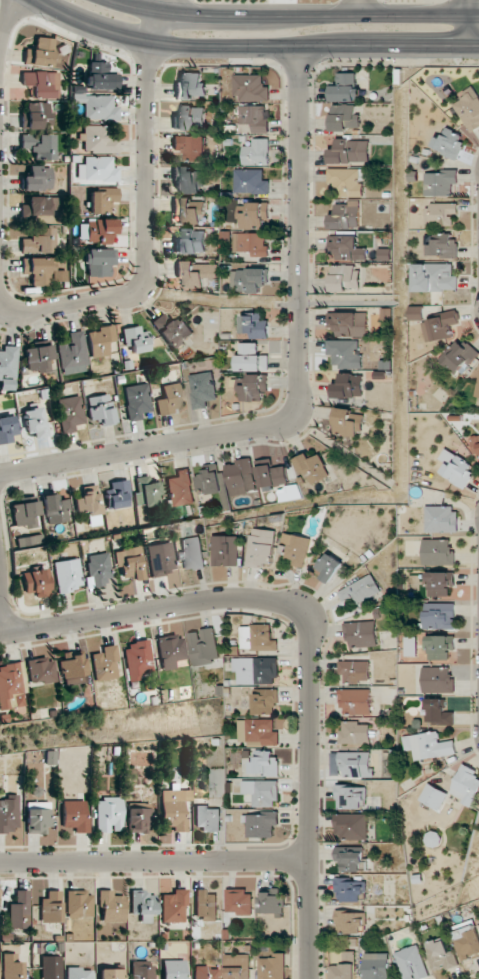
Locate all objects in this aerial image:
road: (359, 7)
road: (295, 15)
road: (8, 20)
road: (471, 23)
road: (251, 47)
building: (39, 52)
building: (99, 77)
building: (41, 83)
building: (190, 86)
building: (251, 88)
building: (345, 88)
building: (96, 107)
building: (469, 108)
building: (36, 115)
building: (189, 118)
building: (254, 118)
building: (344, 118)
building: (449, 142)
building: (38, 145)
building: (190, 146)
building: (350, 151)
building: (256, 152)
building: (96, 169)
building: (37, 179)
building: (187, 179)
building: (250, 181)
building: (348, 181)
building: (441, 182)
building: (100, 199)
building: (39, 206)
building: (189, 210)
building: (441, 213)
building: (253, 215)
building: (346, 215)
road: (145, 217)
building: (97, 230)
building: (38, 242)
building: (190, 242)
building: (251, 243)
building: (442, 245)
building: (349, 248)
building: (98, 261)
building: (37, 270)
building: (194, 274)
building: (435, 277)
building: (344, 278)
building: (417, 313)
building: (348, 323)
building: (255, 326)
building: (440, 326)
building: (171, 330)
building: (135, 339)
building: (100, 340)
building: (345, 353)
building: (73, 354)
building: (458, 356)
building: (38, 358)
building: (252, 358)
building: (8, 367)
road: (299, 382)
building: (349, 386)
building: (478, 386)
building: (254, 387)
building: (202, 389)
building: (169, 399)
building: (136, 401)
building: (100, 409)
building: (69, 413)
building: (346, 422)
building: (34, 423)
building: (7, 430)
building: (475, 444)
building: (456, 467)
building: (313, 468)
building: (272, 476)
building: (241, 477)
building: (213, 484)
building: (180, 488)
building: (146, 490)
building: (287, 493)
building: (117, 494)
building: (87, 503)
building: (55, 509)
building: (25, 514)
building: (441, 519)
building: (28, 540)
building: (261, 547)
building: (225, 550)
building: (295, 551)
building: (438, 551)
building: (192, 553)
building: (159, 558)
building: (128, 563)
building: (97, 567)
building: (330, 567)
building: (65, 575)
building: (34, 582)
building: (440, 583)
building: (360, 589)
building: (439, 615)
road: (1, 620)
building: (361, 633)
building: (259, 638)
road: (309, 640)
building: (411, 646)
building: (204, 647)
building: (440, 647)
building: (170, 650)
building: (136, 660)
building: (104, 664)
building: (72, 668)
building: (41, 670)
building: (257, 670)
building: (355, 670)
building: (438, 679)
building: (10, 686)
building: (266, 701)
building: (356, 701)
building: (438, 712)
building: (257, 731)
building: (354, 733)
building: (428, 745)
building: (48, 757)
building: (466, 785)
building: (262, 792)
building: (434, 796)
building: (351, 797)
building: (173, 809)
building: (8, 814)
building: (108, 814)
building: (74, 816)
building: (37, 817)
building: (207, 818)
building: (137, 819)
building: (262, 824)
building: (352, 826)
building: (351, 858)
road: (153, 861)
building: (350, 889)
building: (239, 901)
building: (272, 901)
building: (78, 904)
building: (141, 905)
building: (50, 906)
building: (173, 906)
building: (206, 906)
building: (110, 907)
building: (19, 910)
building: (350, 922)
building: (469, 942)
building: (442, 955)
building: (413, 963)
building: (344, 965)
building: (376, 965)
building: (11, 966)
building: (237, 966)
building: (50, 967)
building: (272, 967)
building: (173, 969)
building: (141, 970)
building: (78, 973)
building: (205, 973)
building: (110, 974)

